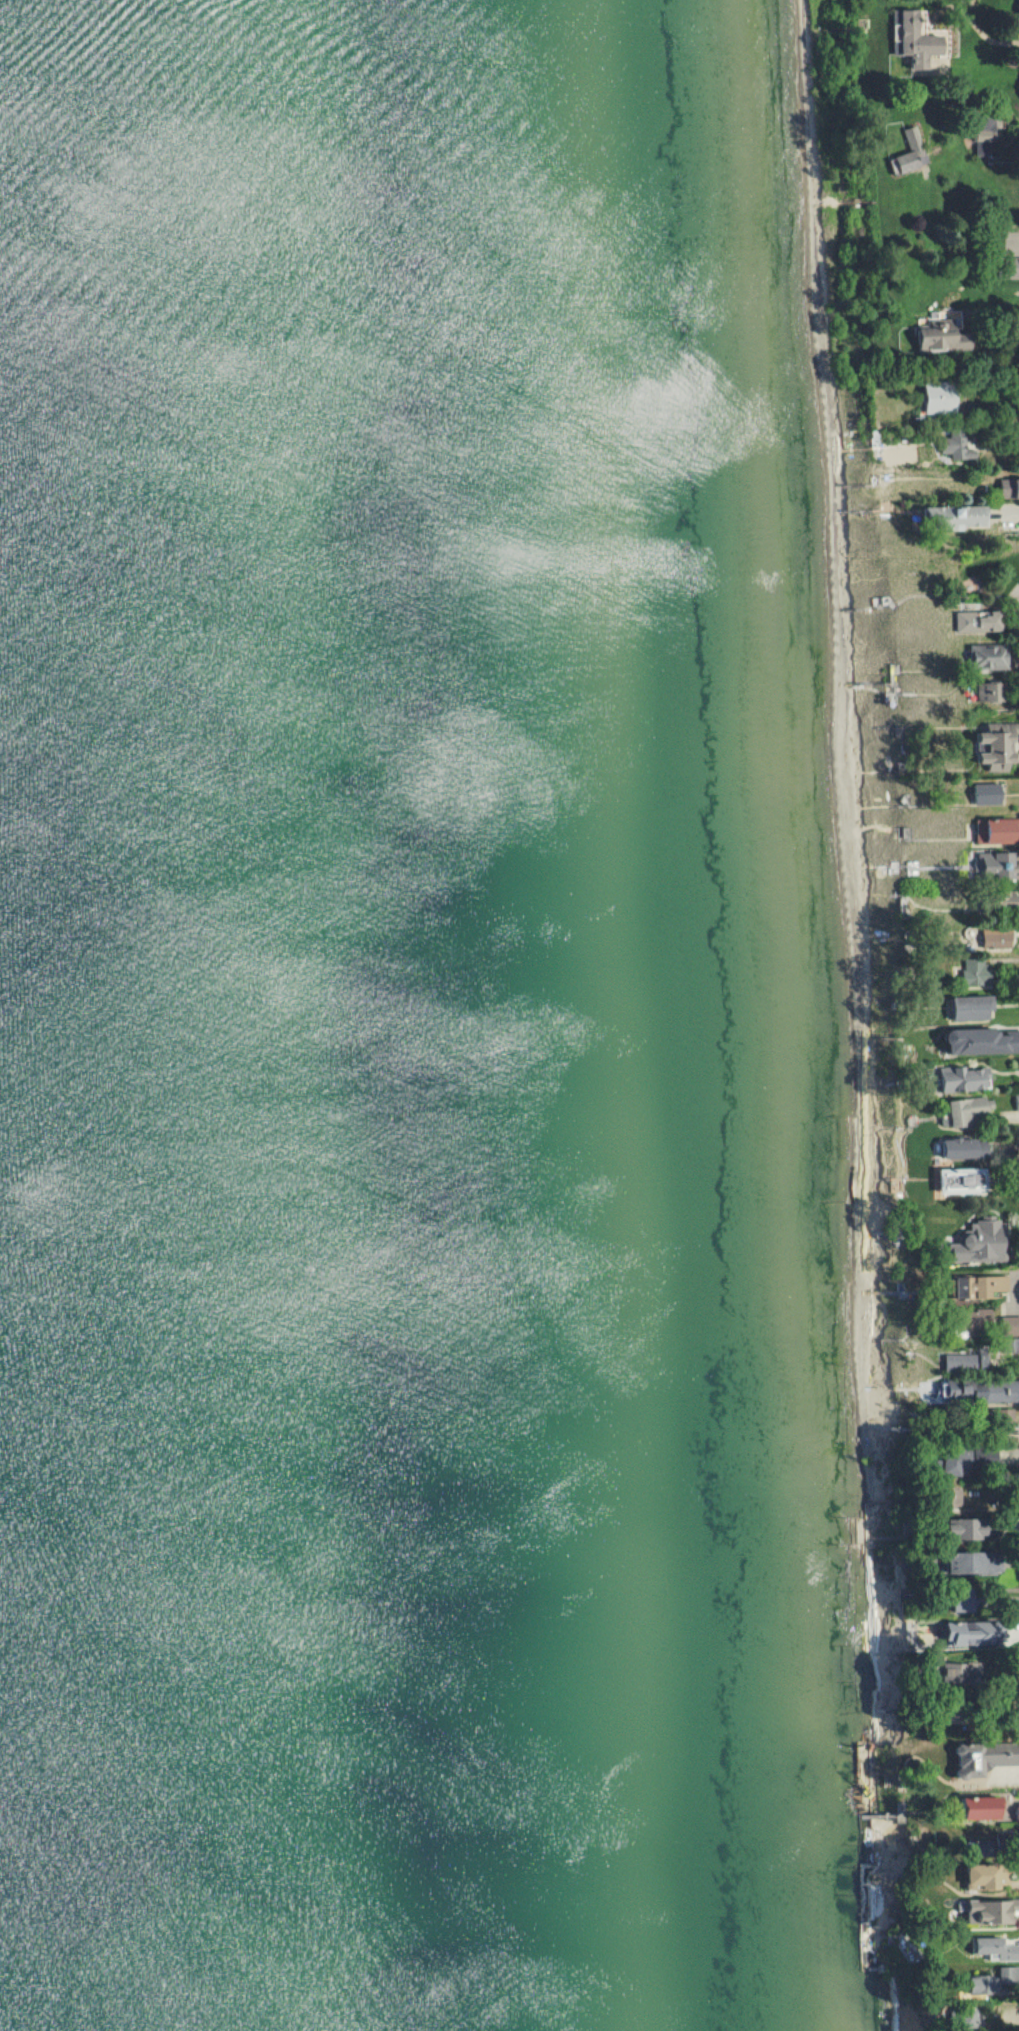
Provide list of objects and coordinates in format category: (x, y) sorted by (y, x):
building: (917, 43)
road: (989, 82)
building: (910, 139)
building: (940, 399)
building: (957, 447)
road: (1012, 516)
building: (963, 622)
building: (991, 622)
building: (988, 657)
building: (988, 693)
building: (996, 746)
building: (986, 794)
building: (1002, 832)
building: (991, 865)
building: (974, 973)
building: (971, 1007)
building: (982, 1041)
building: (963, 1078)
building: (1017, 1102)
building: (964, 1109)
building: (964, 1148)
building: (980, 1242)
building: (985, 1285)
road: (1018, 1291)
building: (980, 1316)
building: (980, 1390)
building: (956, 1496)
building: (968, 1529)
building: (973, 1563)
building: (970, 1633)
building: (1000, 1754)
road: (1013, 1777)
building: (982, 1808)
building: (1017, 1811)
building: (986, 1876)
building: (991, 1911)
building: (997, 1948)
building: (1007, 1976)
building: (983, 1985)
road: (1016, 2020)

